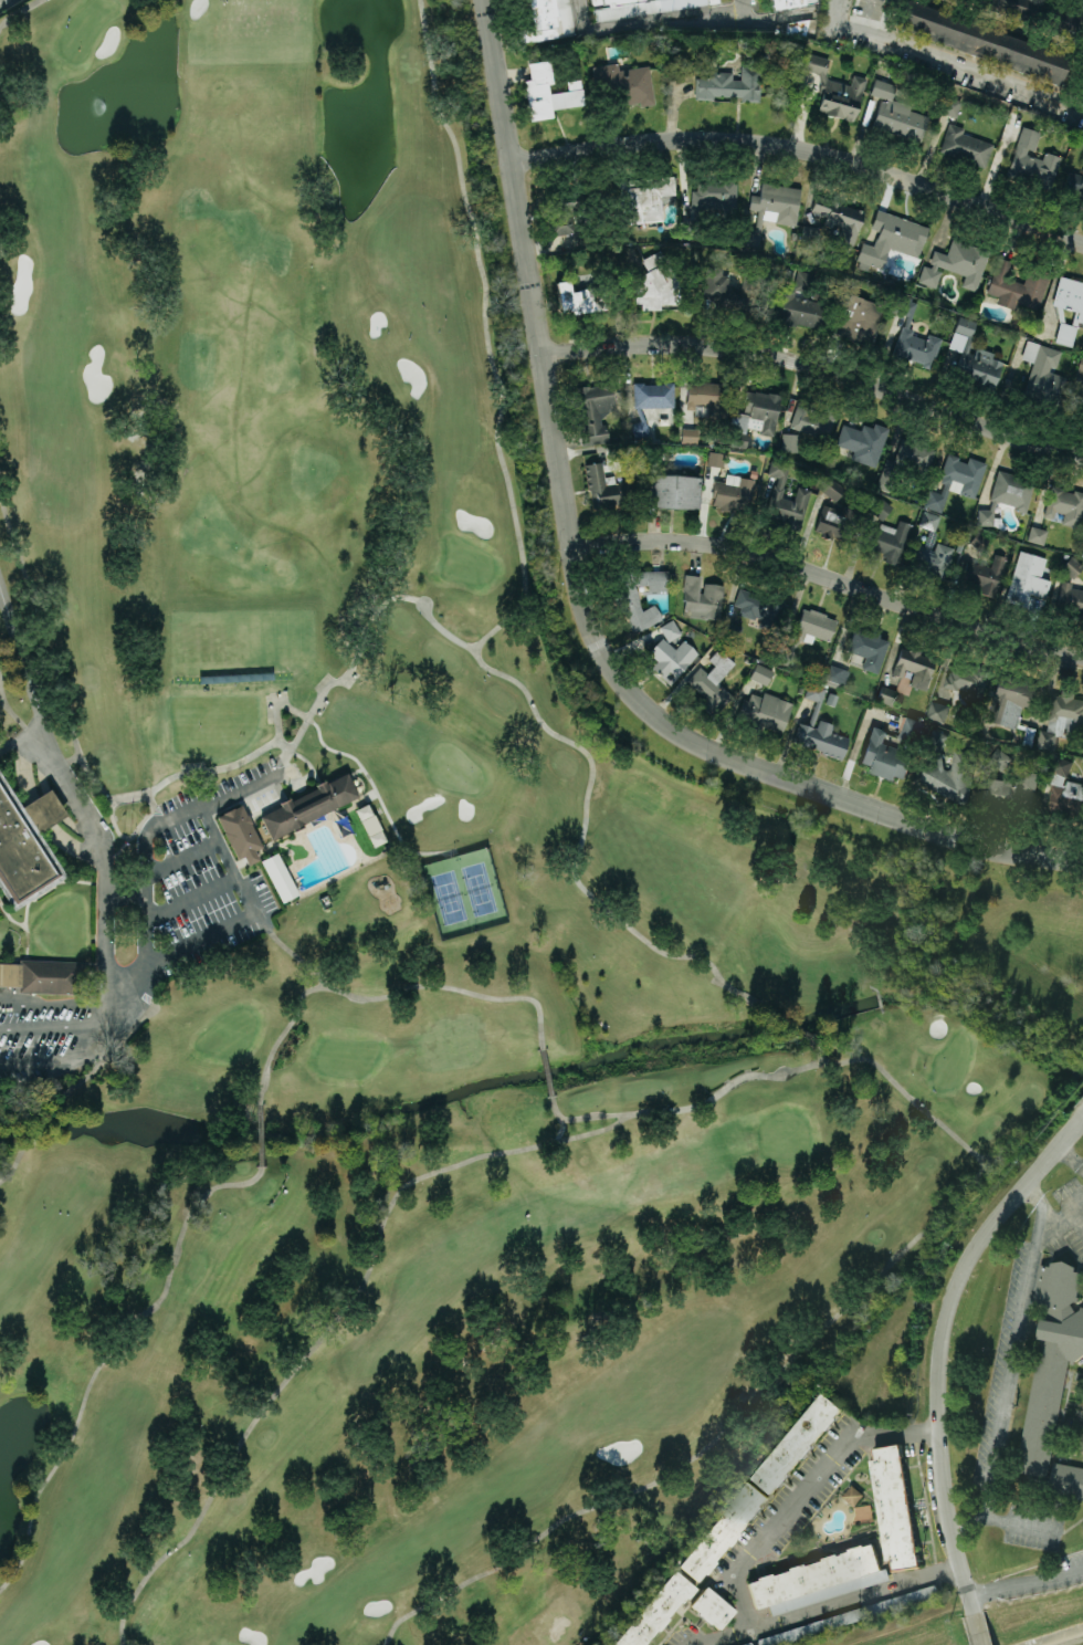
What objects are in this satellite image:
building: (789, 2)
building: (640, 7)
building: (1007, 7)
road: (743, 9)
road: (787, 13)
road: (580, 15)
building: (548, 19)
road: (663, 19)
building: (1062, 24)
building: (982, 41)
road: (946, 57)
building: (624, 83)
building: (728, 84)
building: (883, 88)
building: (835, 90)
building: (548, 92)
building: (950, 105)
building: (900, 119)
building: (965, 146)
road: (802, 150)
building: (1033, 159)
building: (1074, 185)
building: (714, 196)
building: (646, 198)
building: (772, 208)
building: (561, 216)
building: (840, 219)
building: (892, 239)
building: (956, 264)
building: (658, 283)
building: (1018, 286)
building: (721, 287)
building: (1070, 295)
building: (579, 298)
building: (798, 303)
building: (859, 319)
building: (1065, 334)
building: (915, 338)
building: (972, 355)
building: (1081, 364)
road: (816, 366)
building: (1043, 374)
building: (653, 395)
building: (1082, 406)
building: (595, 411)
building: (757, 412)
building: (811, 420)
building: (688, 434)
building: (789, 442)
building: (863, 442)
building: (915, 453)
building: (714, 459)
building: (956, 480)
building: (604, 486)
building: (833, 489)
building: (1012, 490)
building: (673, 491)
building: (732, 492)
building: (801, 493)
building: (1064, 505)
building: (880, 507)
building: (986, 515)
building: (929, 520)
building: (830, 521)
building: (1037, 535)
building: (889, 541)
building: (1082, 551)
building: (932, 559)
building: (1071, 566)
building: (985, 574)
road: (829, 578)
building: (1027, 578)
road: (576, 596)
building: (702, 598)
building: (1070, 598)
building: (630, 599)
building: (761, 608)
building: (814, 626)
building: (670, 630)
building: (732, 631)
building: (868, 649)
building: (672, 658)
building: (914, 667)
building: (760, 673)
building: (837, 674)
building: (966, 679)
building: (712, 682)
building: (816, 691)
building: (886, 694)
building: (1011, 700)
building: (937, 710)
building: (766, 711)
building: (1062, 717)
building: (911, 730)
road: (19, 734)
building: (820, 738)
road: (856, 745)
building: (884, 755)
building: (999, 758)
road: (28, 768)
building: (946, 768)
building: (1011, 790)
road: (74, 792)
building: (1064, 792)
building: (308, 805)
road: (189, 808)
road: (41, 811)
building: (369, 825)
building: (239, 831)
building: (25, 845)
road: (73, 846)
road: (182, 858)
road: (227, 860)
building: (278, 877)
park: (464, 891)
road: (127, 895)
road: (190, 899)
park: (382, 910)
road: (145, 923)
road: (181, 953)
building: (49, 975)
road: (99, 1018)
road: (49, 1028)
road: (1080, 1114)
road: (1069, 1159)
road: (1068, 1208)
road: (1055, 1222)
road: (937, 1345)
road: (1011, 1348)
building: (1051, 1360)
building: (797, 1442)
building: (1066, 1479)
building: (851, 1494)
road: (800, 1495)
building: (893, 1506)
road: (998, 1520)
building: (723, 1531)
parking lot: (1071, 1567)
park: (1037, 1578)
building: (816, 1579)
road: (1024, 1583)
road: (831, 1604)
building: (712, 1607)
building: (655, 1612)
building: (848, 1616)
park: (1039, 1620)
park: (921, 1625)
road: (978, 1628)

